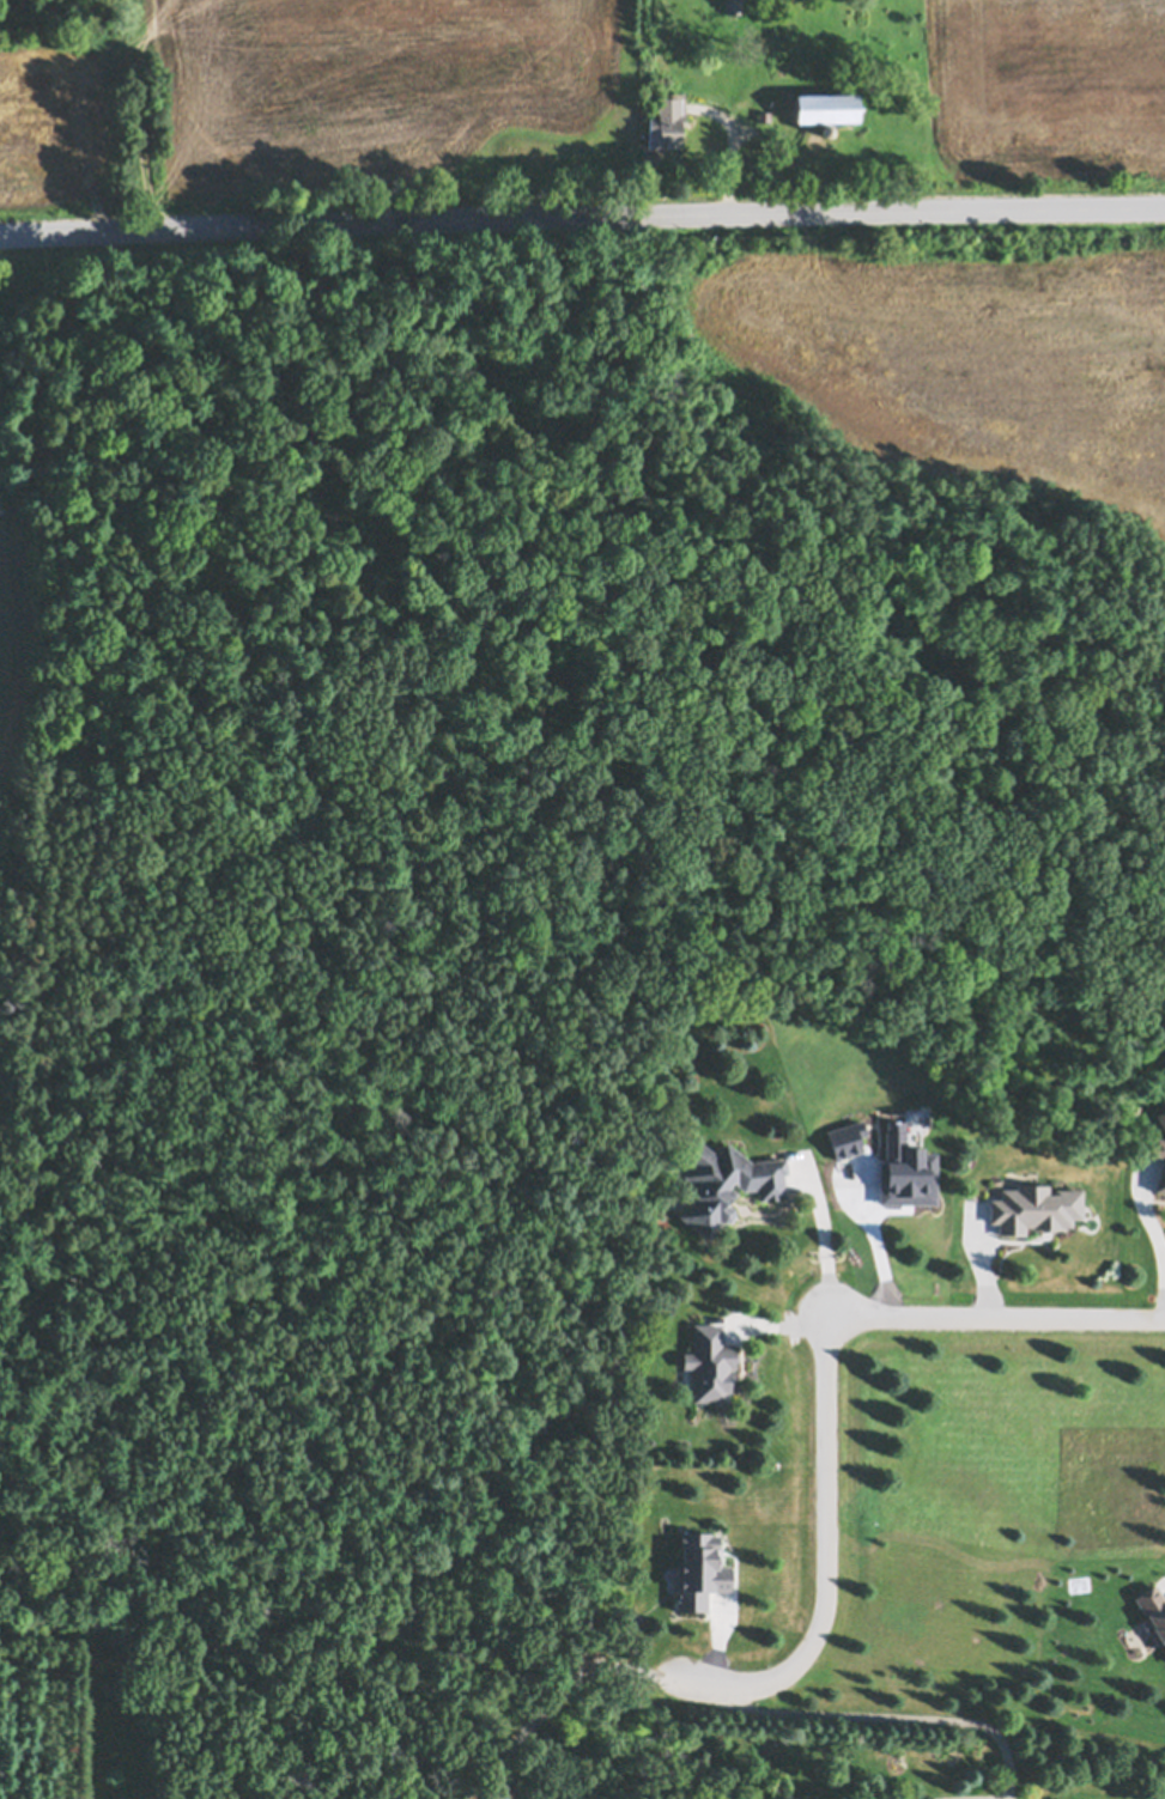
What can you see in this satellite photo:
building: (734, 5)
building: (827, 102)
building: (765, 114)
building: (667, 118)
building: (827, 129)
road: (582, 217)
building: (1161, 1114)
building: (1159, 1144)
building: (1161, 1178)
building: (727, 1180)
building: (1036, 1207)
road: (823, 1234)
road: (1155, 1246)
building: (710, 1361)
road: (824, 1382)
building: (700, 1569)
building: (1153, 1610)
road: (554, 1684)
road: (893, 1716)

